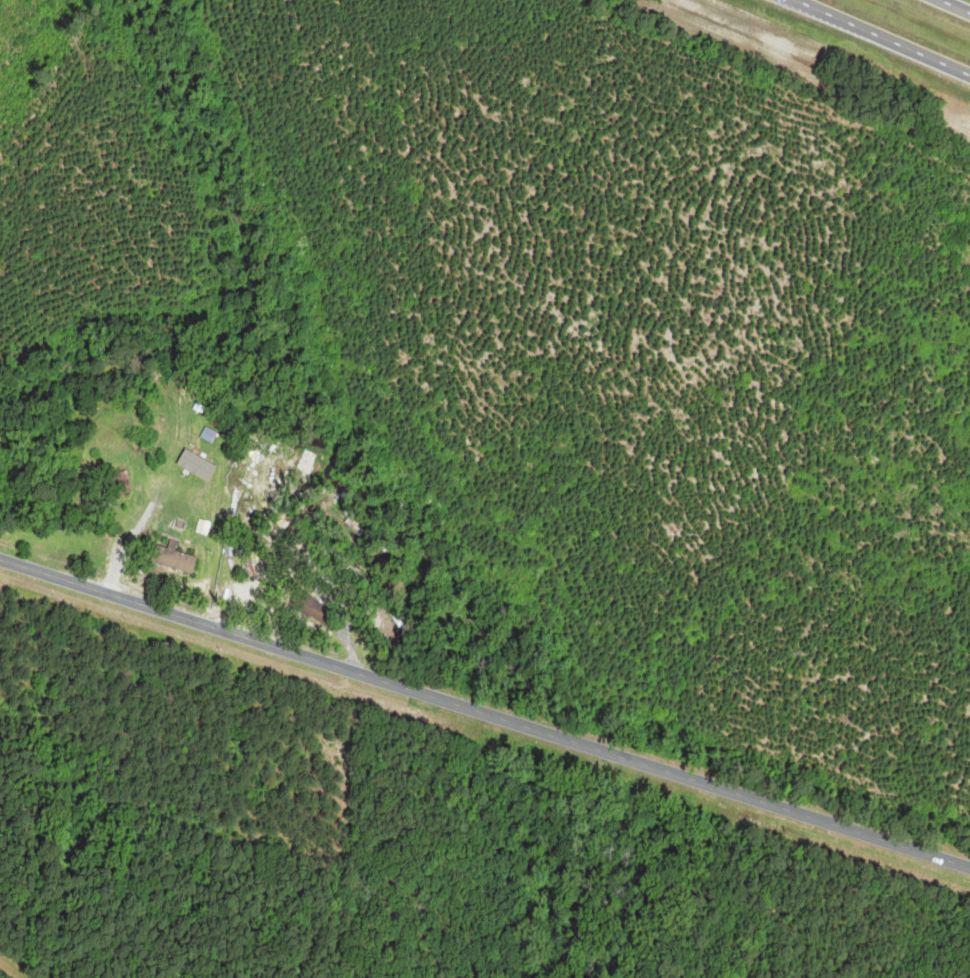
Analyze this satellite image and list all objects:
road: (953, 6)
road: (881, 38)
building: (118, 484)
building: (90, 501)
building: (174, 560)
building: (310, 605)
road: (485, 714)

